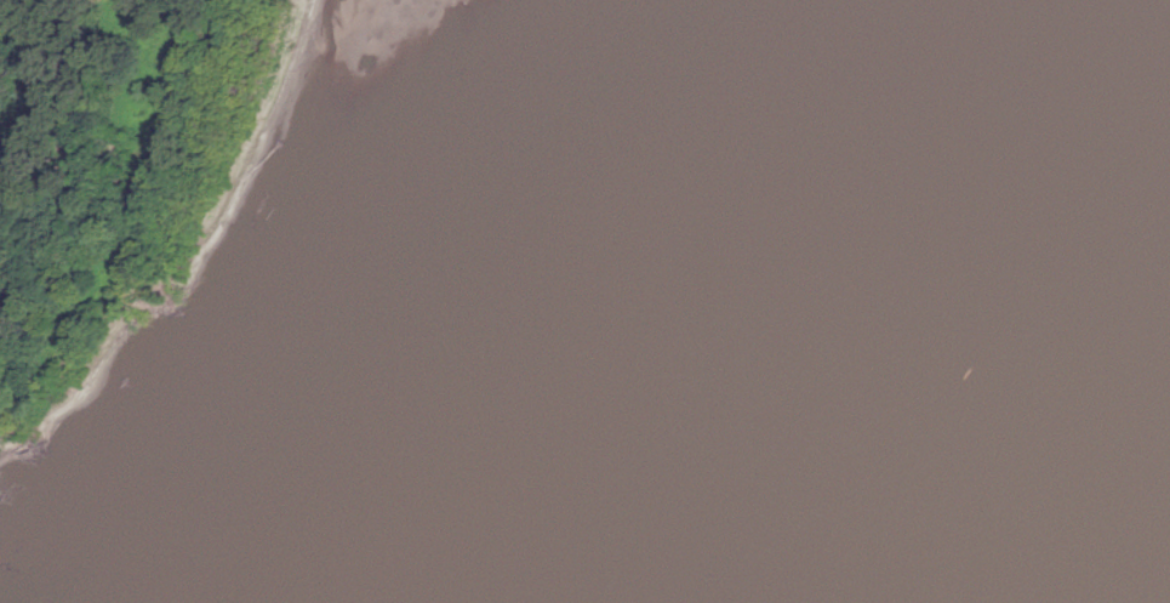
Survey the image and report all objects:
river: (1112, 554)

